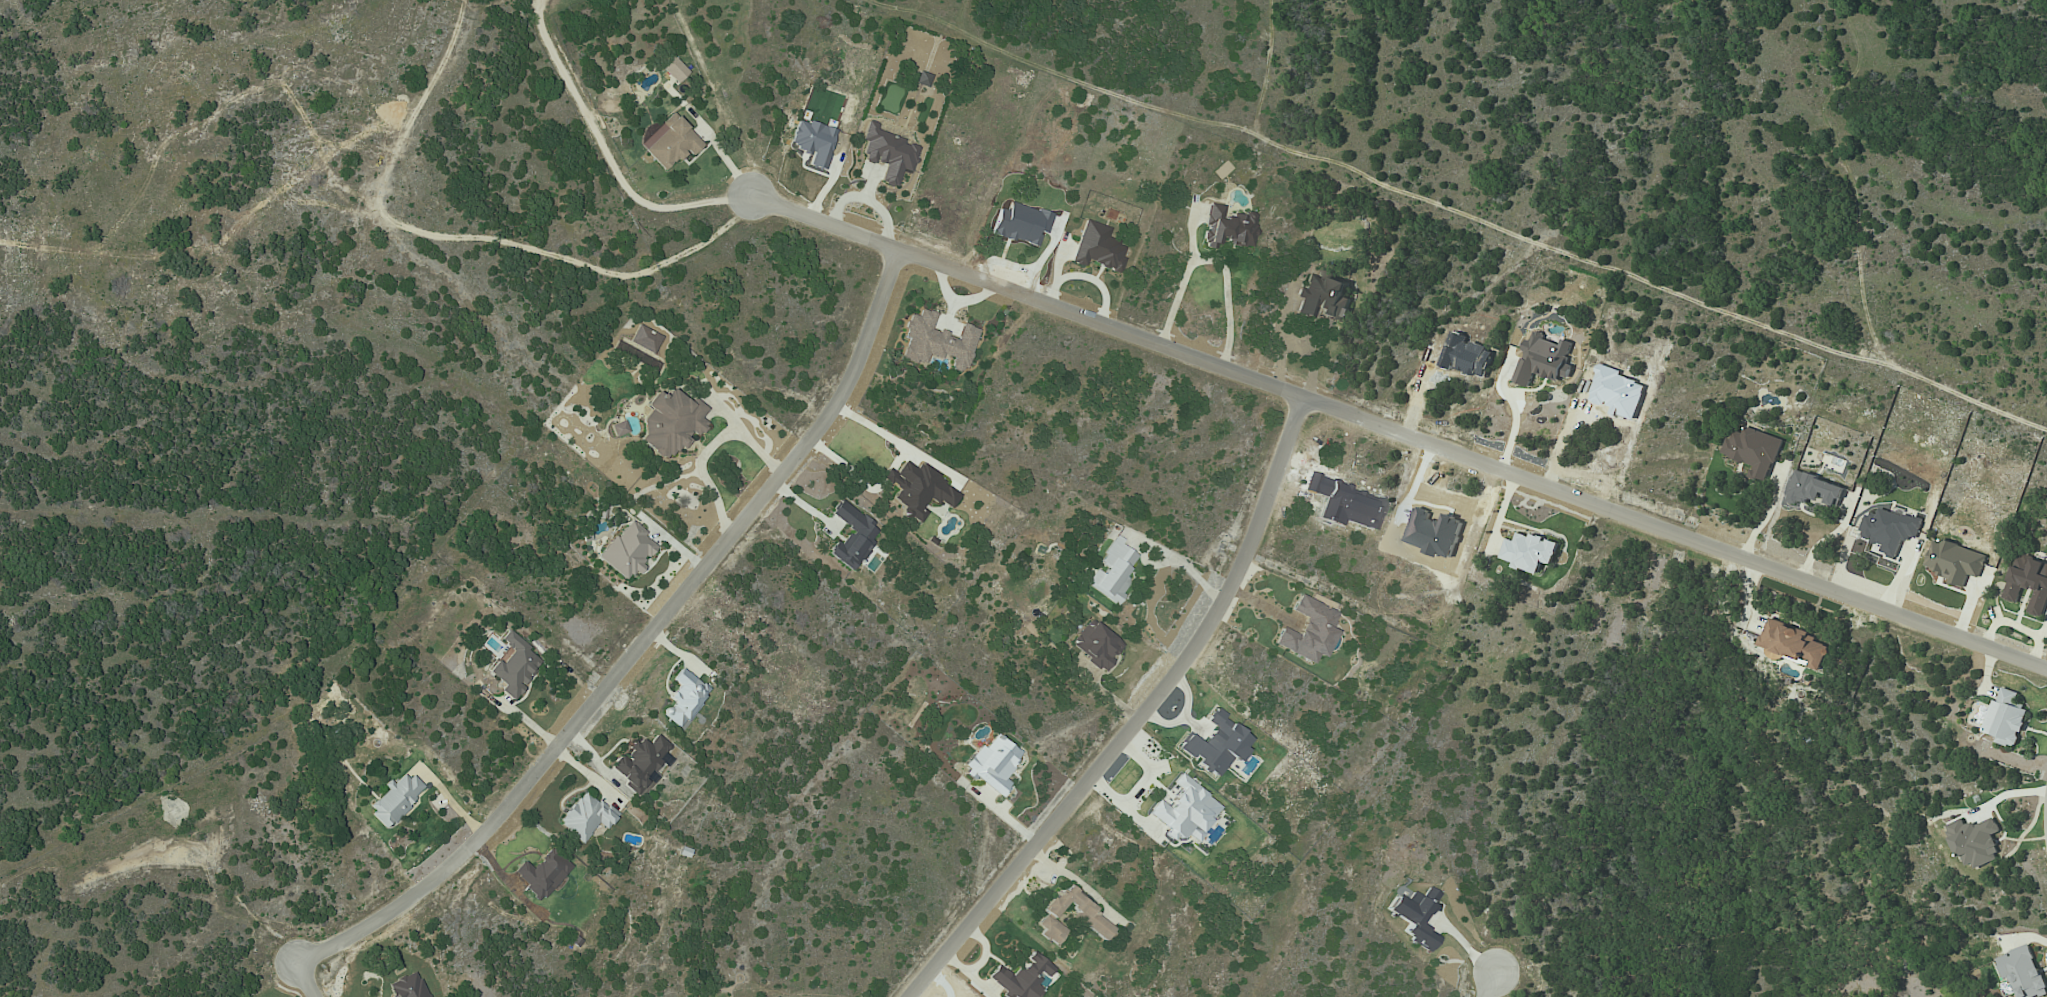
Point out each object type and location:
building: (673, 69)
building: (921, 79)
building: (669, 141)
building: (812, 142)
building: (886, 153)
road: (607, 154)
building: (1227, 227)
building: (1096, 248)
road: (1215, 263)
building: (1323, 296)
building: (936, 342)
building: (1543, 359)
road: (1514, 415)
building: (670, 423)
building: (618, 428)
road: (879, 432)
road: (1398, 432)
road: (1566, 442)
road: (706, 449)
building: (1754, 451)
road: (848, 465)
road: (887, 477)
building: (917, 490)
building: (1810, 490)
road: (1765, 515)
building: (1889, 530)
building: (851, 537)
road: (1824, 539)
building: (626, 550)
building: (1528, 551)
road: (1164, 552)
building: (1954, 561)
building: (1112, 572)
building: (2029, 583)
road: (735, 610)
building: (1306, 631)
road: (640, 644)
building: (1094, 645)
building: (1794, 645)
building: (514, 666)
building: (684, 698)
road: (1137, 717)
building: (2006, 717)
building: (1214, 745)
building: (639, 763)
building: (991, 764)
road: (1145, 772)
building: (394, 799)
road: (452, 801)
road: (1123, 808)
building: (1182, 810)
building: (585, 817)
building: (1975, 842)
building: (541, 873)
road: (1076, 883)
building: (1087, 916)
building: (1414, 916)
building: (2022, 972)
building: (1020, 978)
road: (304, 979)
road: (1489, 984)
building: (406, 987)

